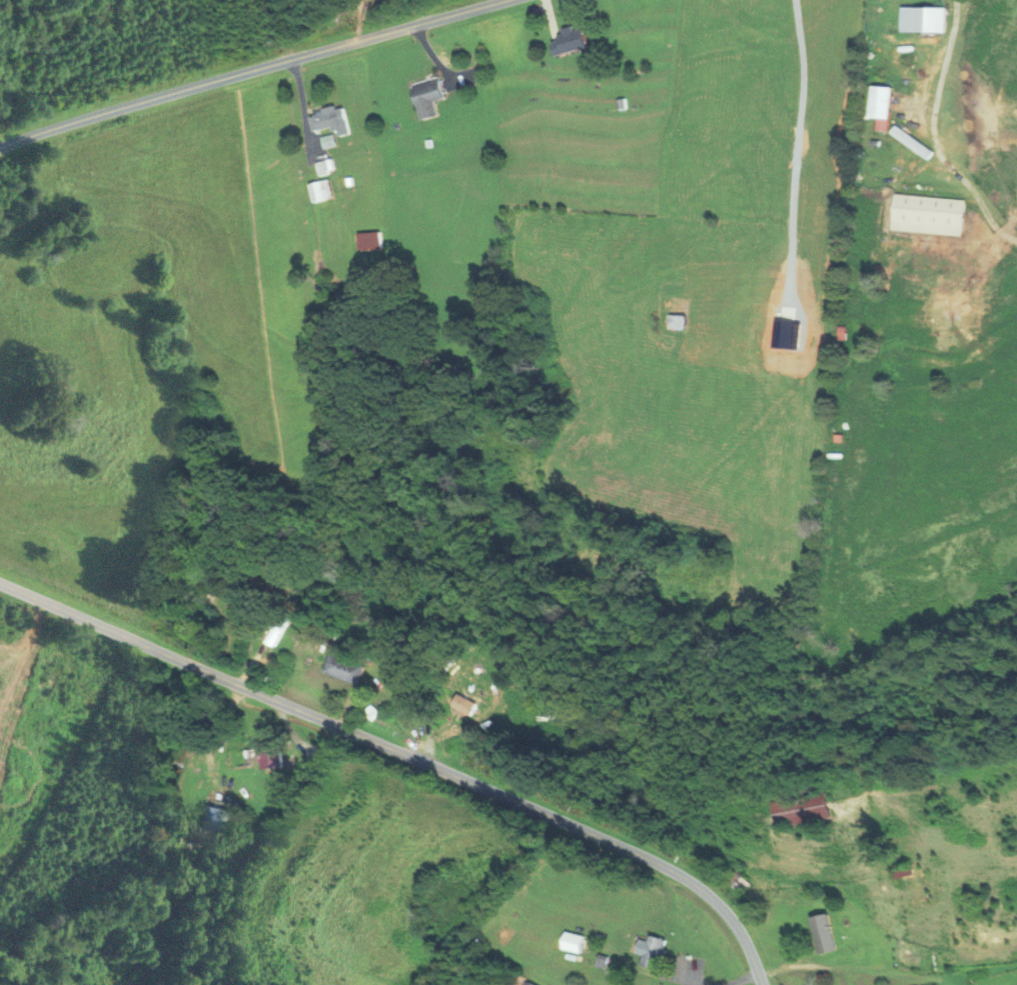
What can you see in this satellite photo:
building: (924, 17)
building: (570, 40)
road: (259, 65)
building: (429, 97)
building: (881, 100)
building: (330, 119)
road: (933, 135)
building: (327, 139)
building: (876, 164)
building: (322, 166)
building: (320, 190)
building: (929, 213)
building: (369, 240)
building: (678, 320)
building: (380, 580)
building: (277, 627)
building: (344, 668)
building: (461, 705)
building: (269, 754)
road: (406, 754)
building: (800, 809)
building: (214, 816)
building: (739, 881)
building: (824, 932)
building: (574, 941)
building: (656, 951)
building: (530, 983)

